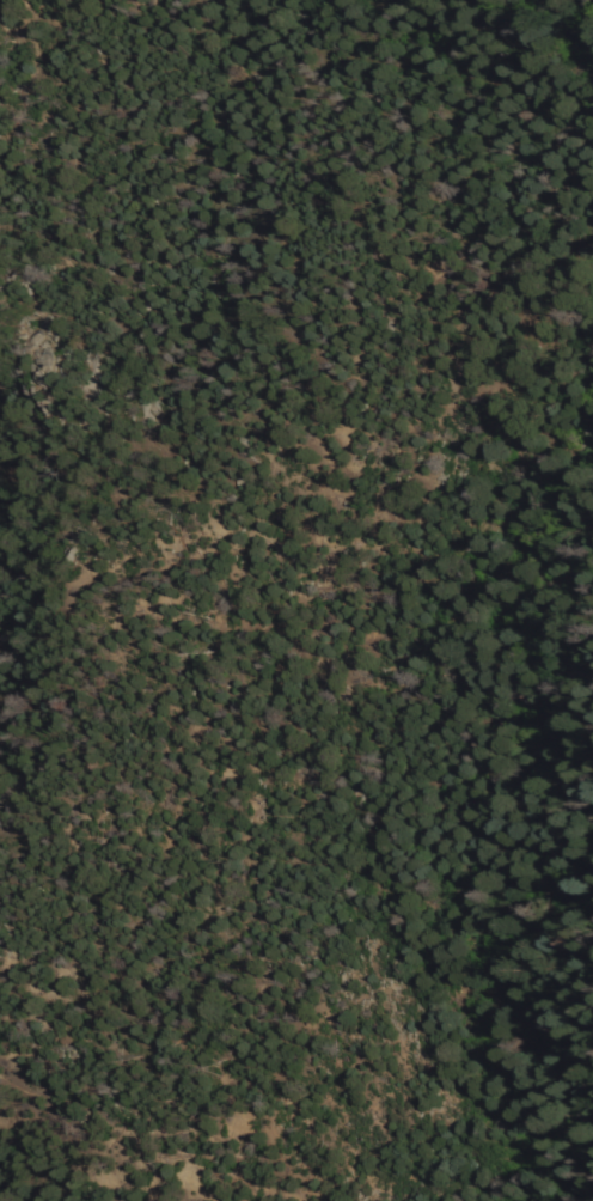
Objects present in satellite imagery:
road: (63, 1123)

